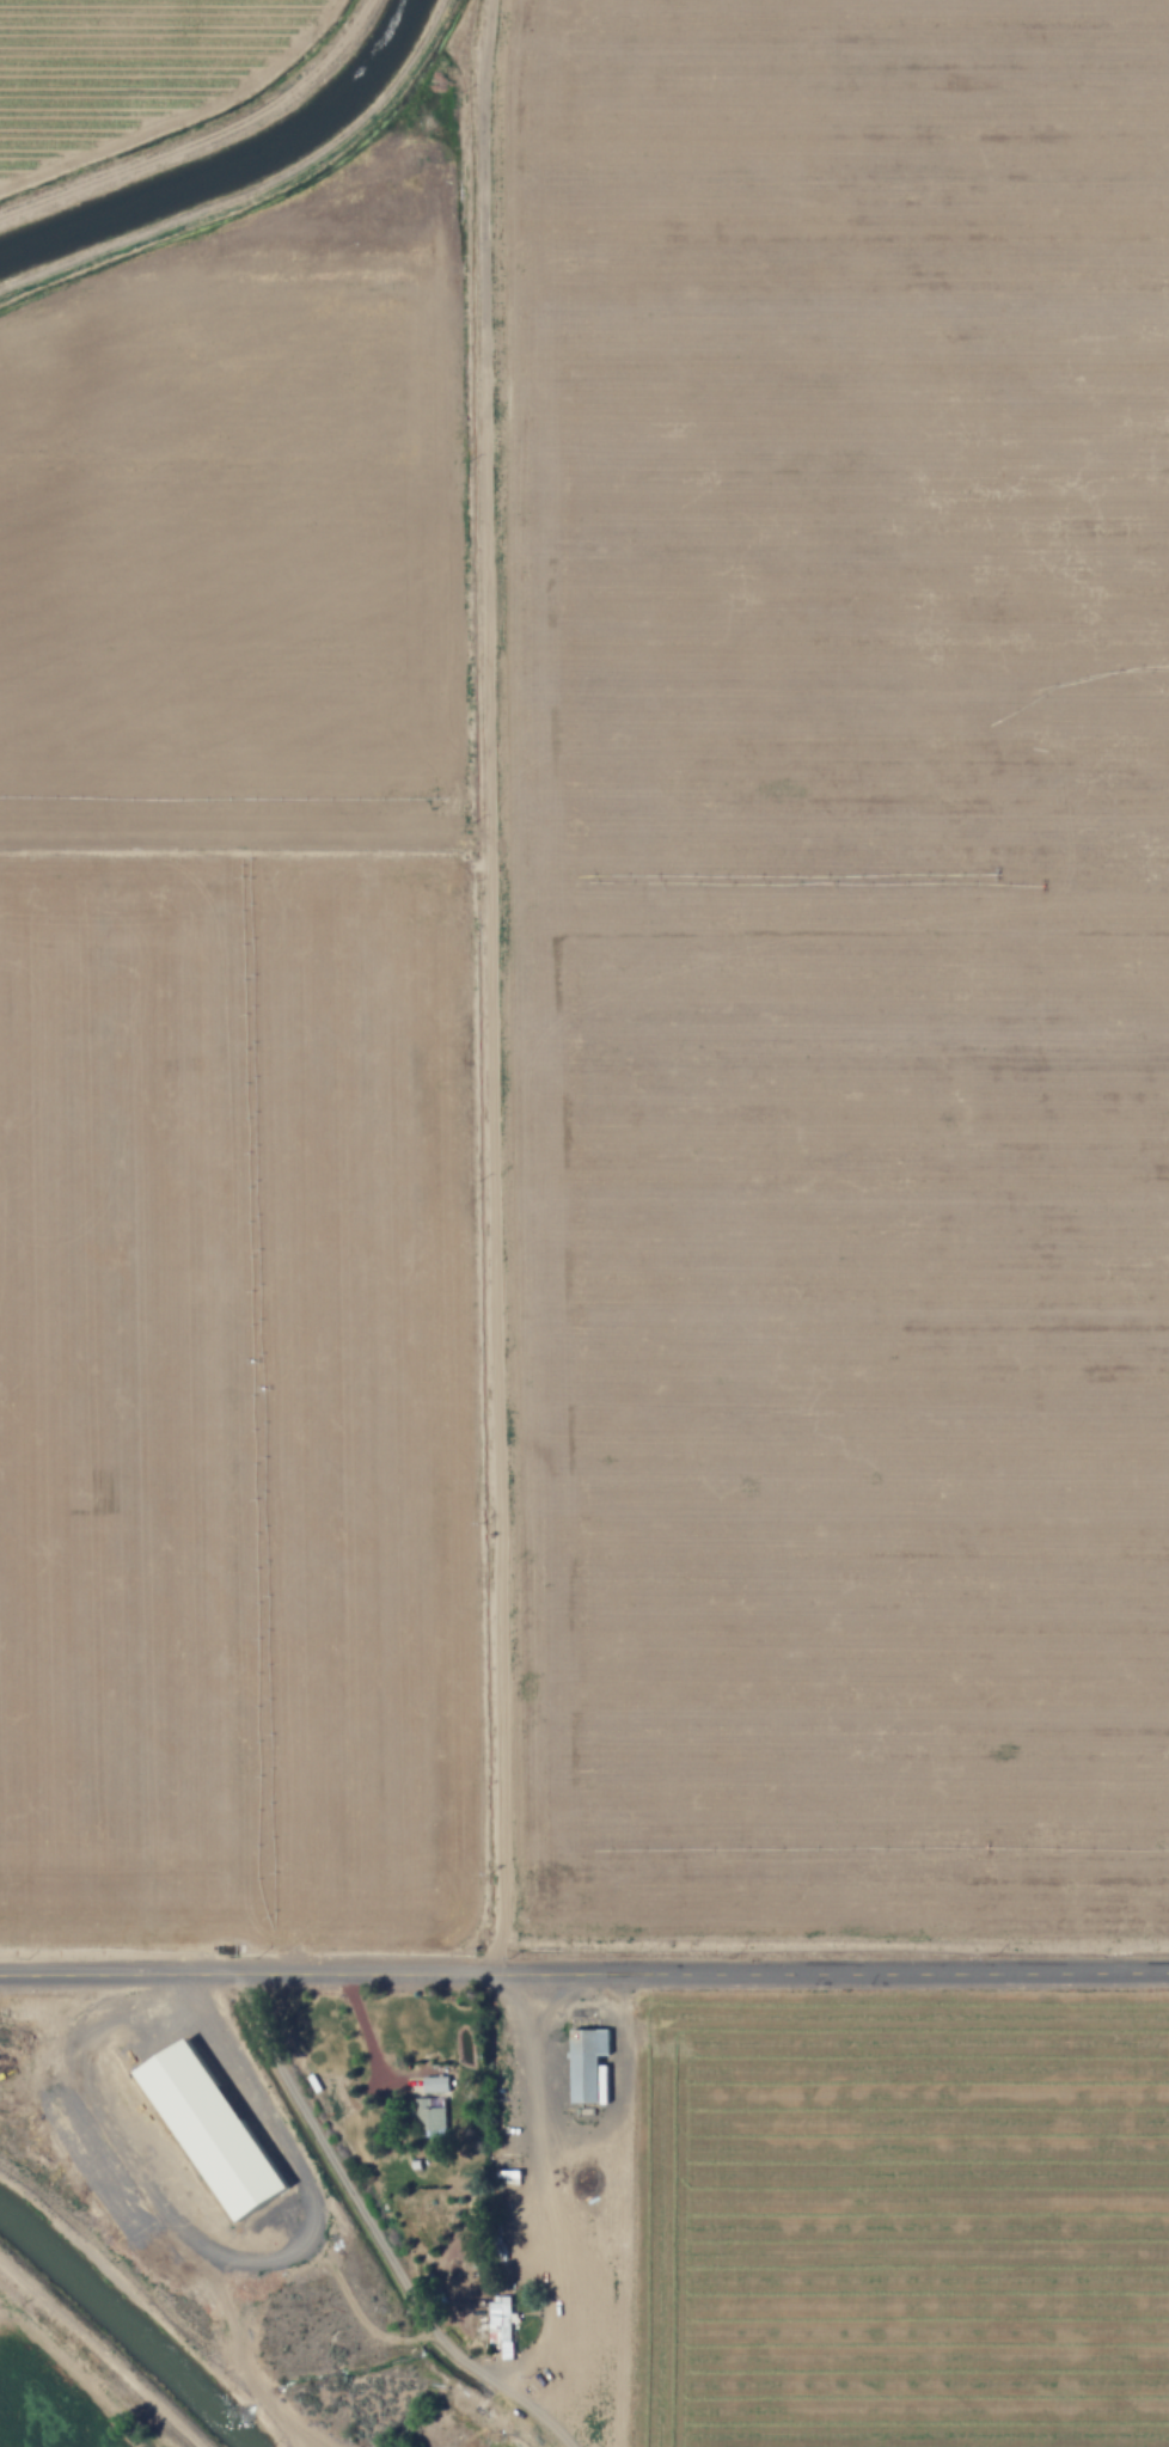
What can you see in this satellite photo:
road: (583, 1974)
building: (586, 2062)
building: (433, 2084)
building: (428, 2116)
building: (209, 2130)
building: (268, 2140)
building: (133, 2212)
road: (373, 2233)
building: (498, 2318)

